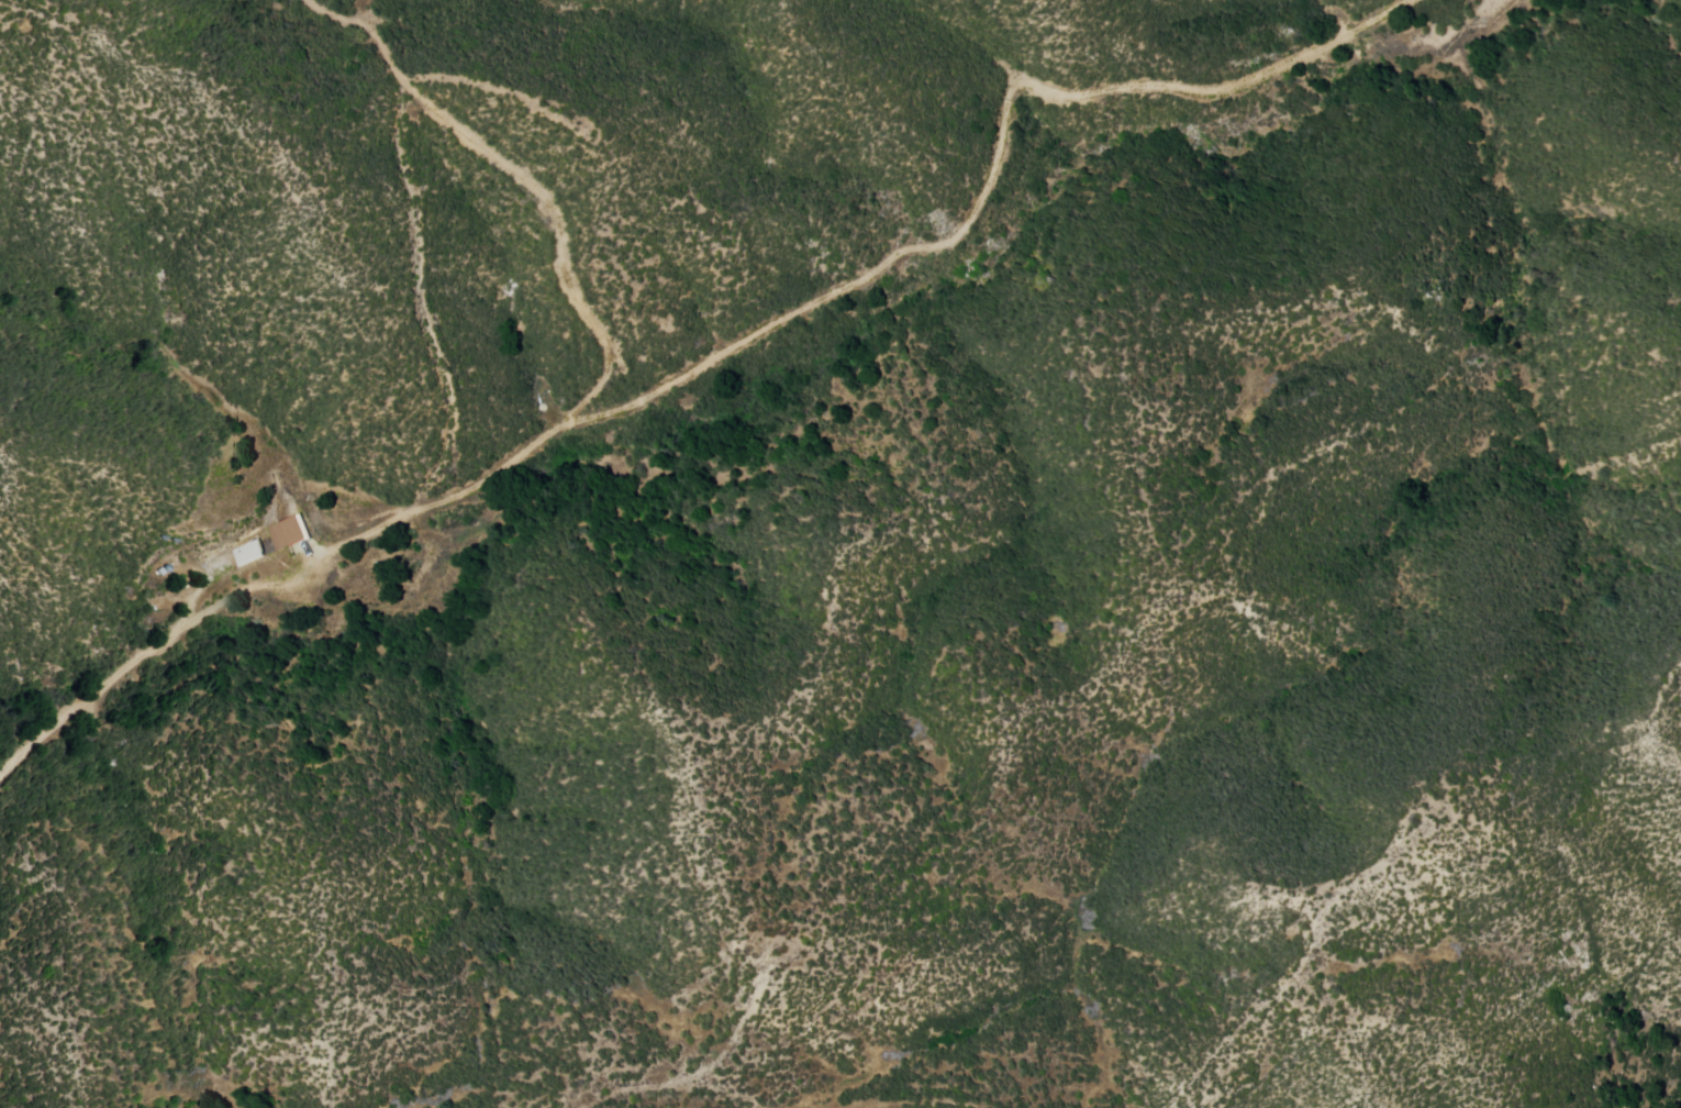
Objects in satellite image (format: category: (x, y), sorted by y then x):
road: (726, 352)
building: (296, 530)
building: (251, 555)

